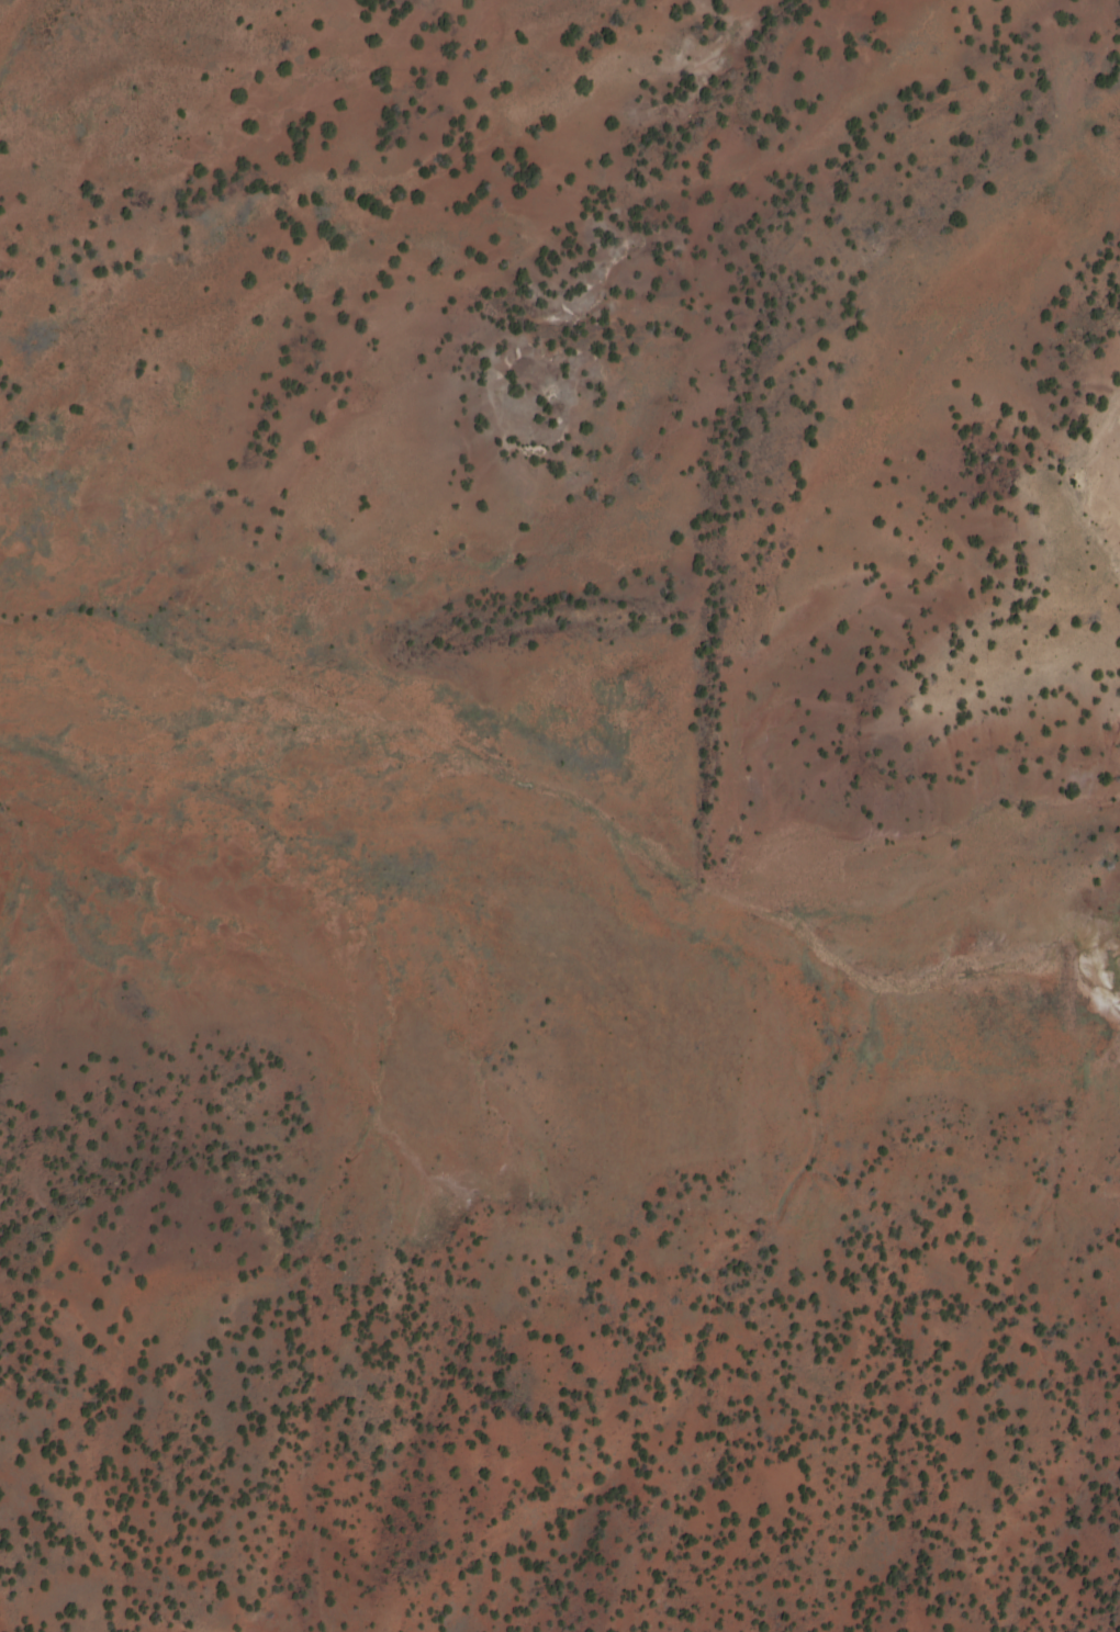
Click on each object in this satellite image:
road: (1050, 95)

